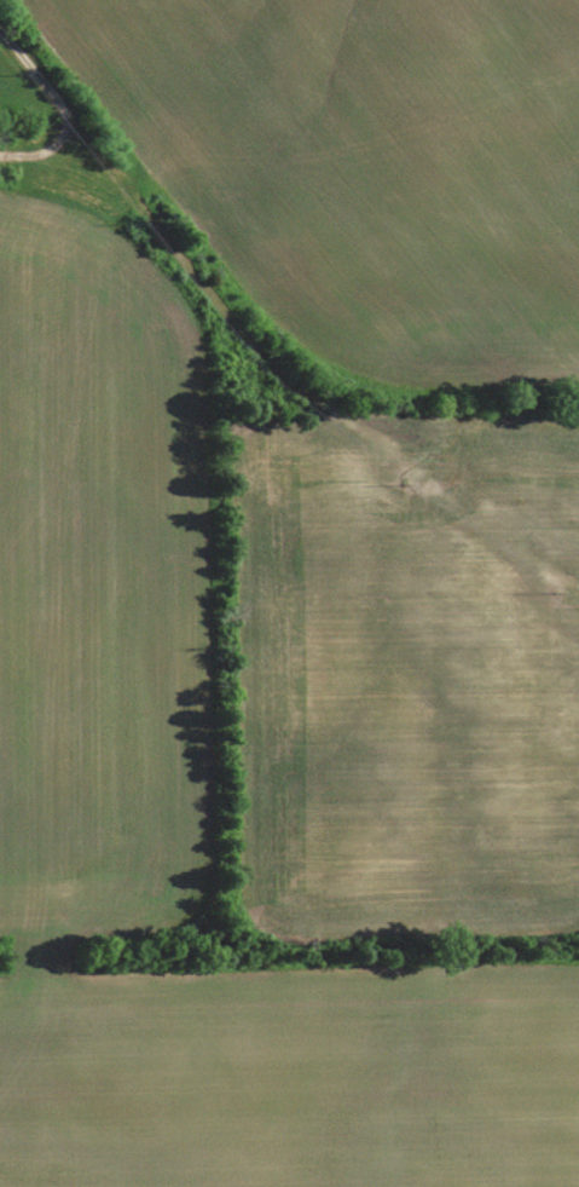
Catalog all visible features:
road: (73, 115)

